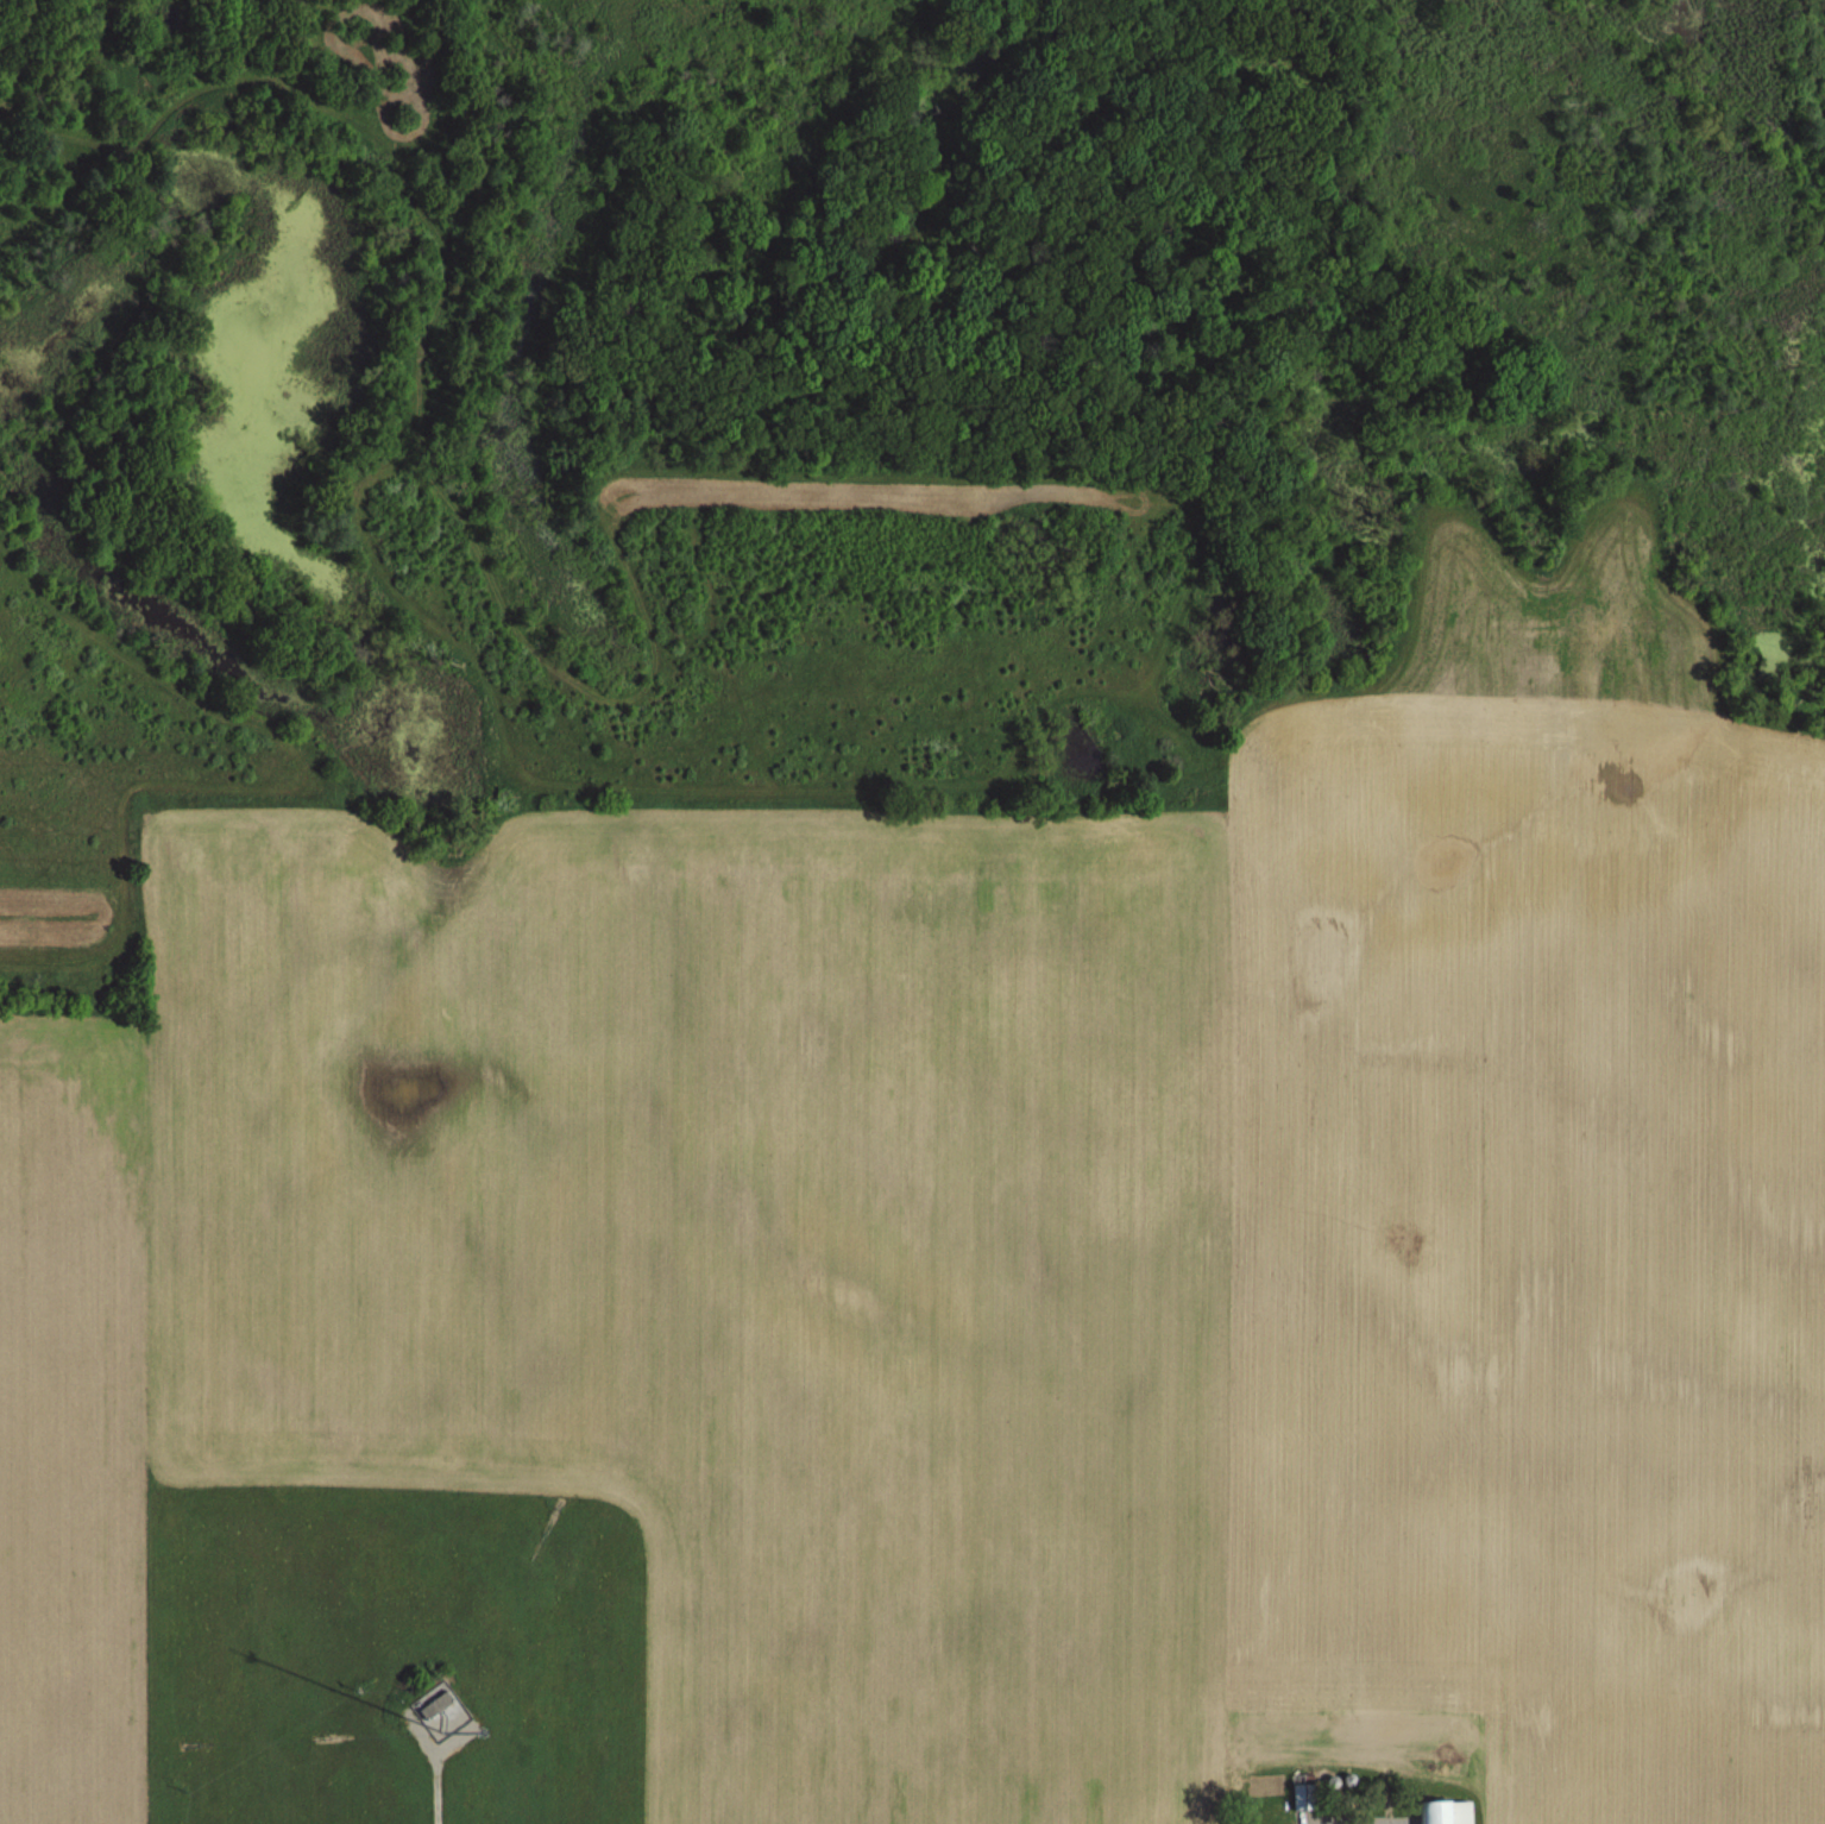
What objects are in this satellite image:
building: (1304, 1795)
building: (1447, 1811)

